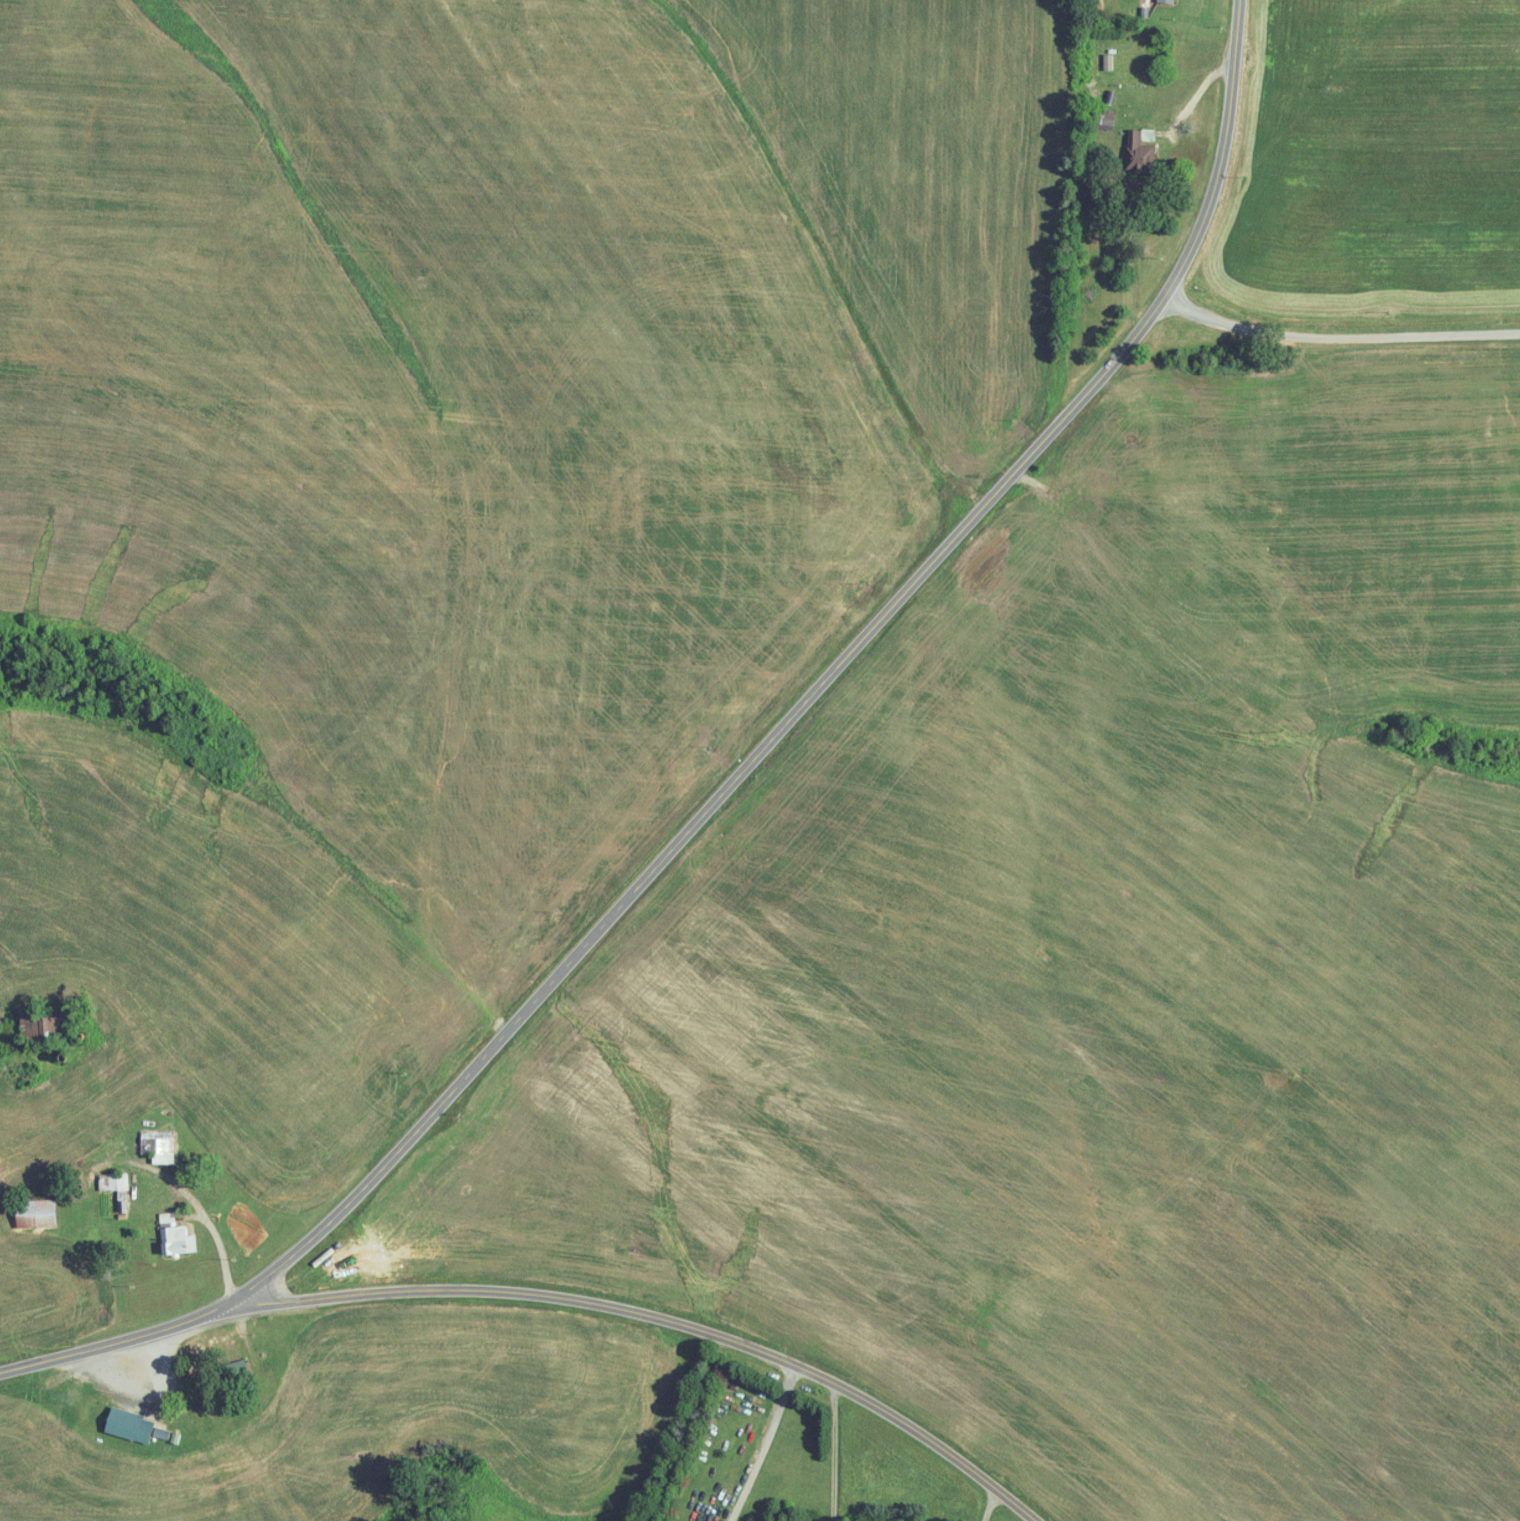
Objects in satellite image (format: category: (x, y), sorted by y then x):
building: (1165, 0)
building: (1106, 61)
building: (1138, 150)
road: (1341, 337)
road: (732, 784)
building: (54, 1028)
building: (156, 1144)
building: (111, 1180)
building: (32, 1212)
road: (213, 1228)
building: (173, 1235)
road: (659, 1316)
building: (126, 1424)
building: (158, 1432)
road: (764, 1443)
road: (833, 1454)

